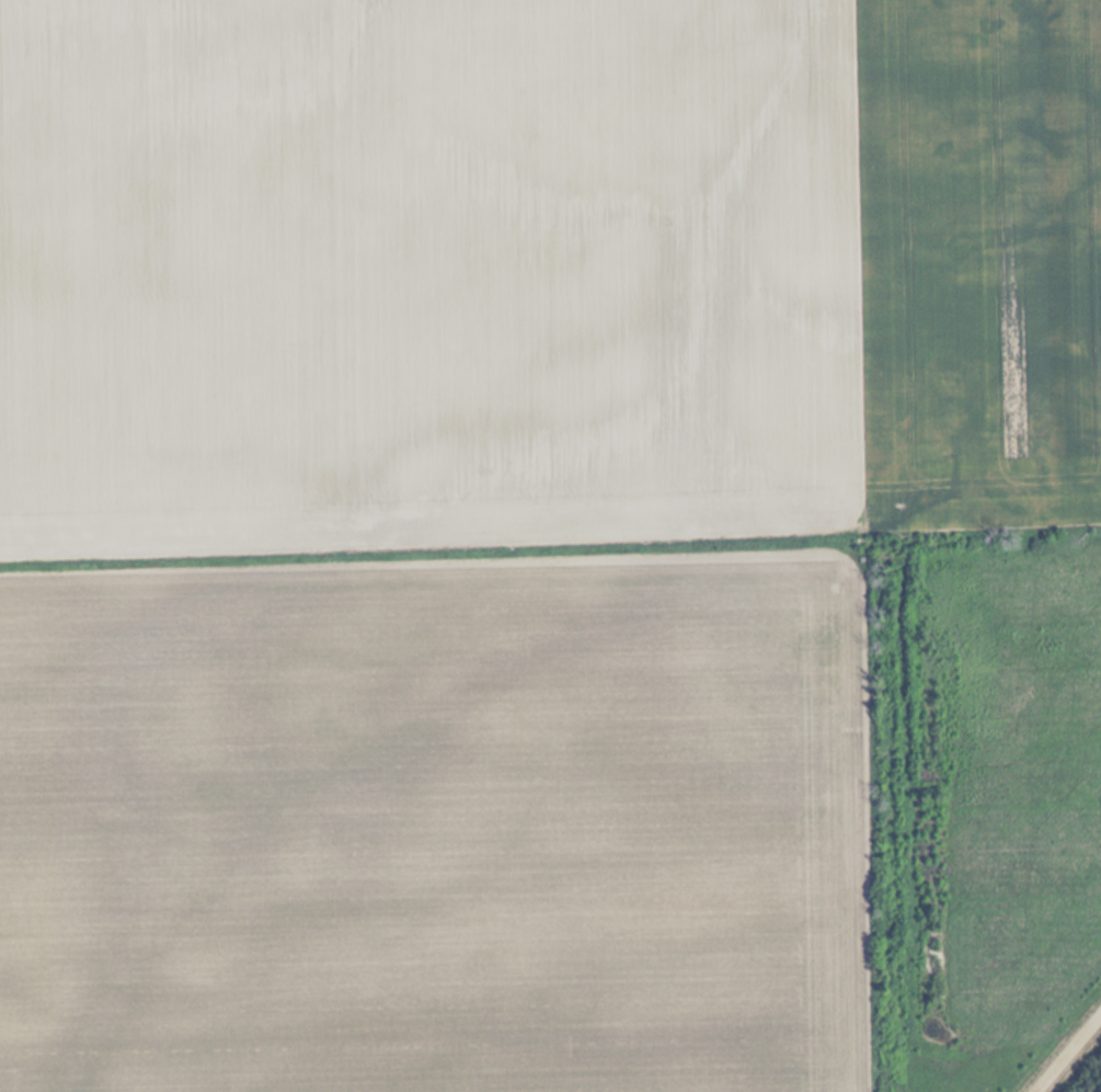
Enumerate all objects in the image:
road: (1063, 1047)

